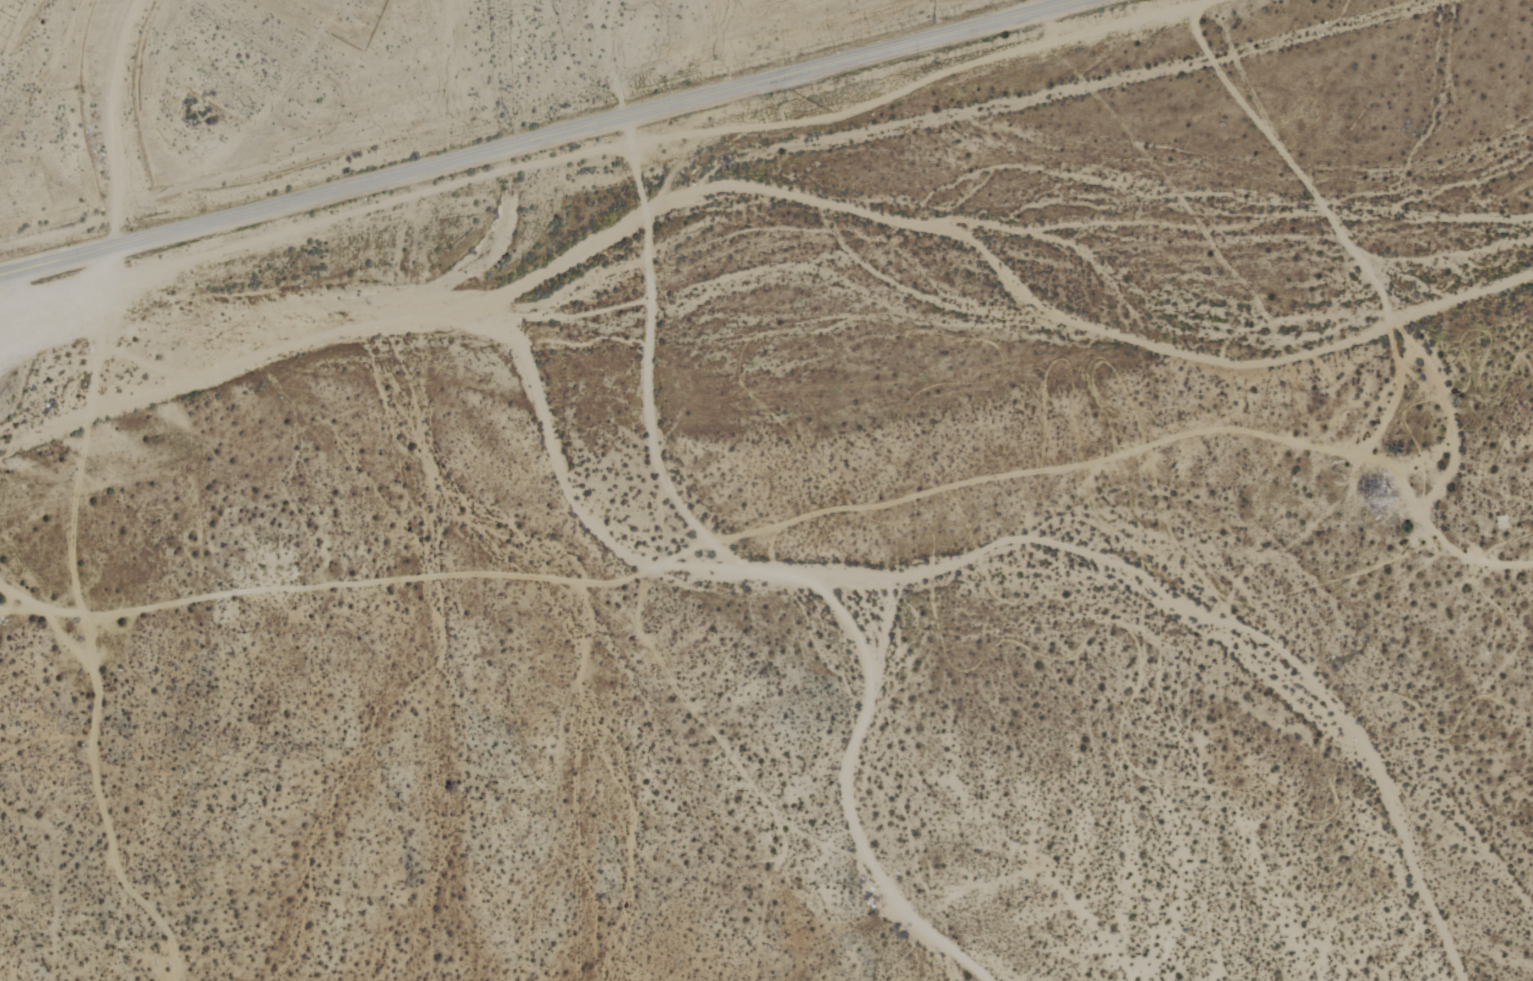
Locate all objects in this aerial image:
road: (541, 137)
road: (765, 575)

